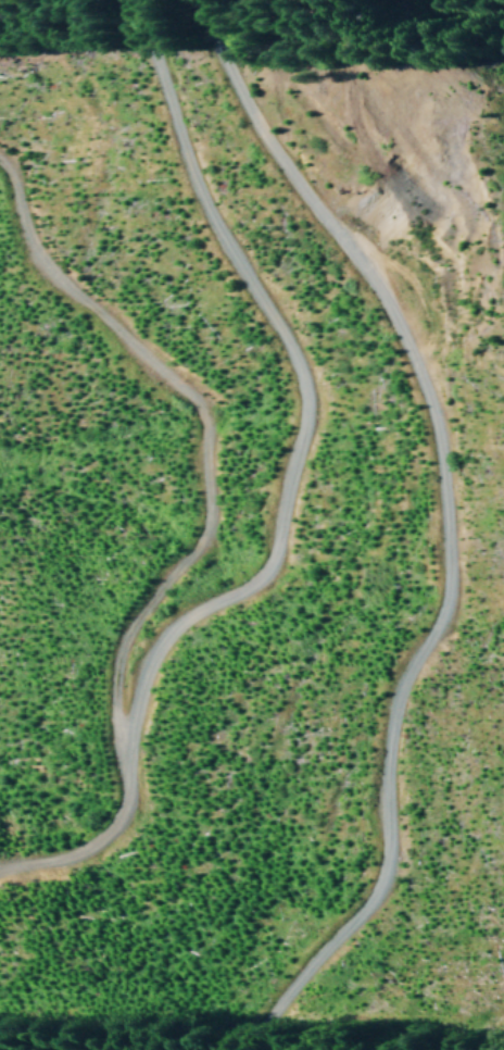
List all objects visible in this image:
road: (490, 53)
road: (192, 433)
road: (286, 487)
road: (444, 520)

